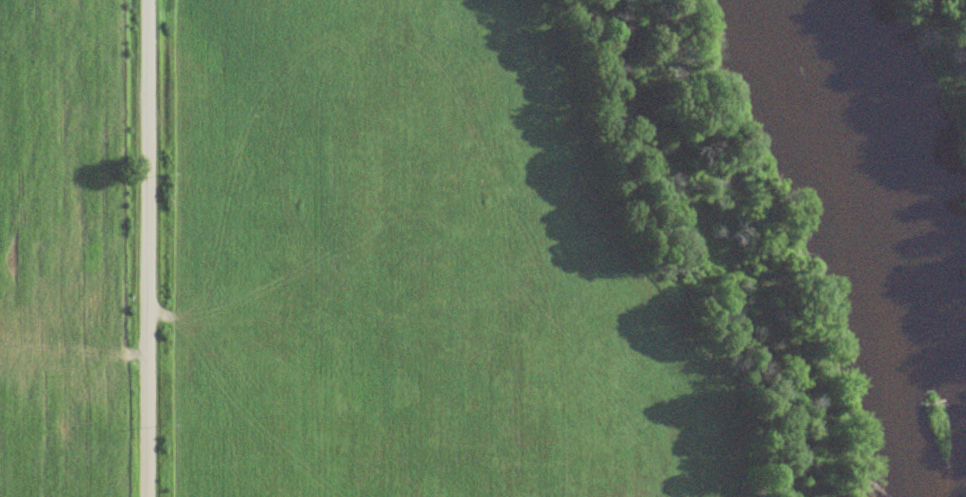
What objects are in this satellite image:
river: (882, 246)
road: (141, 248)

